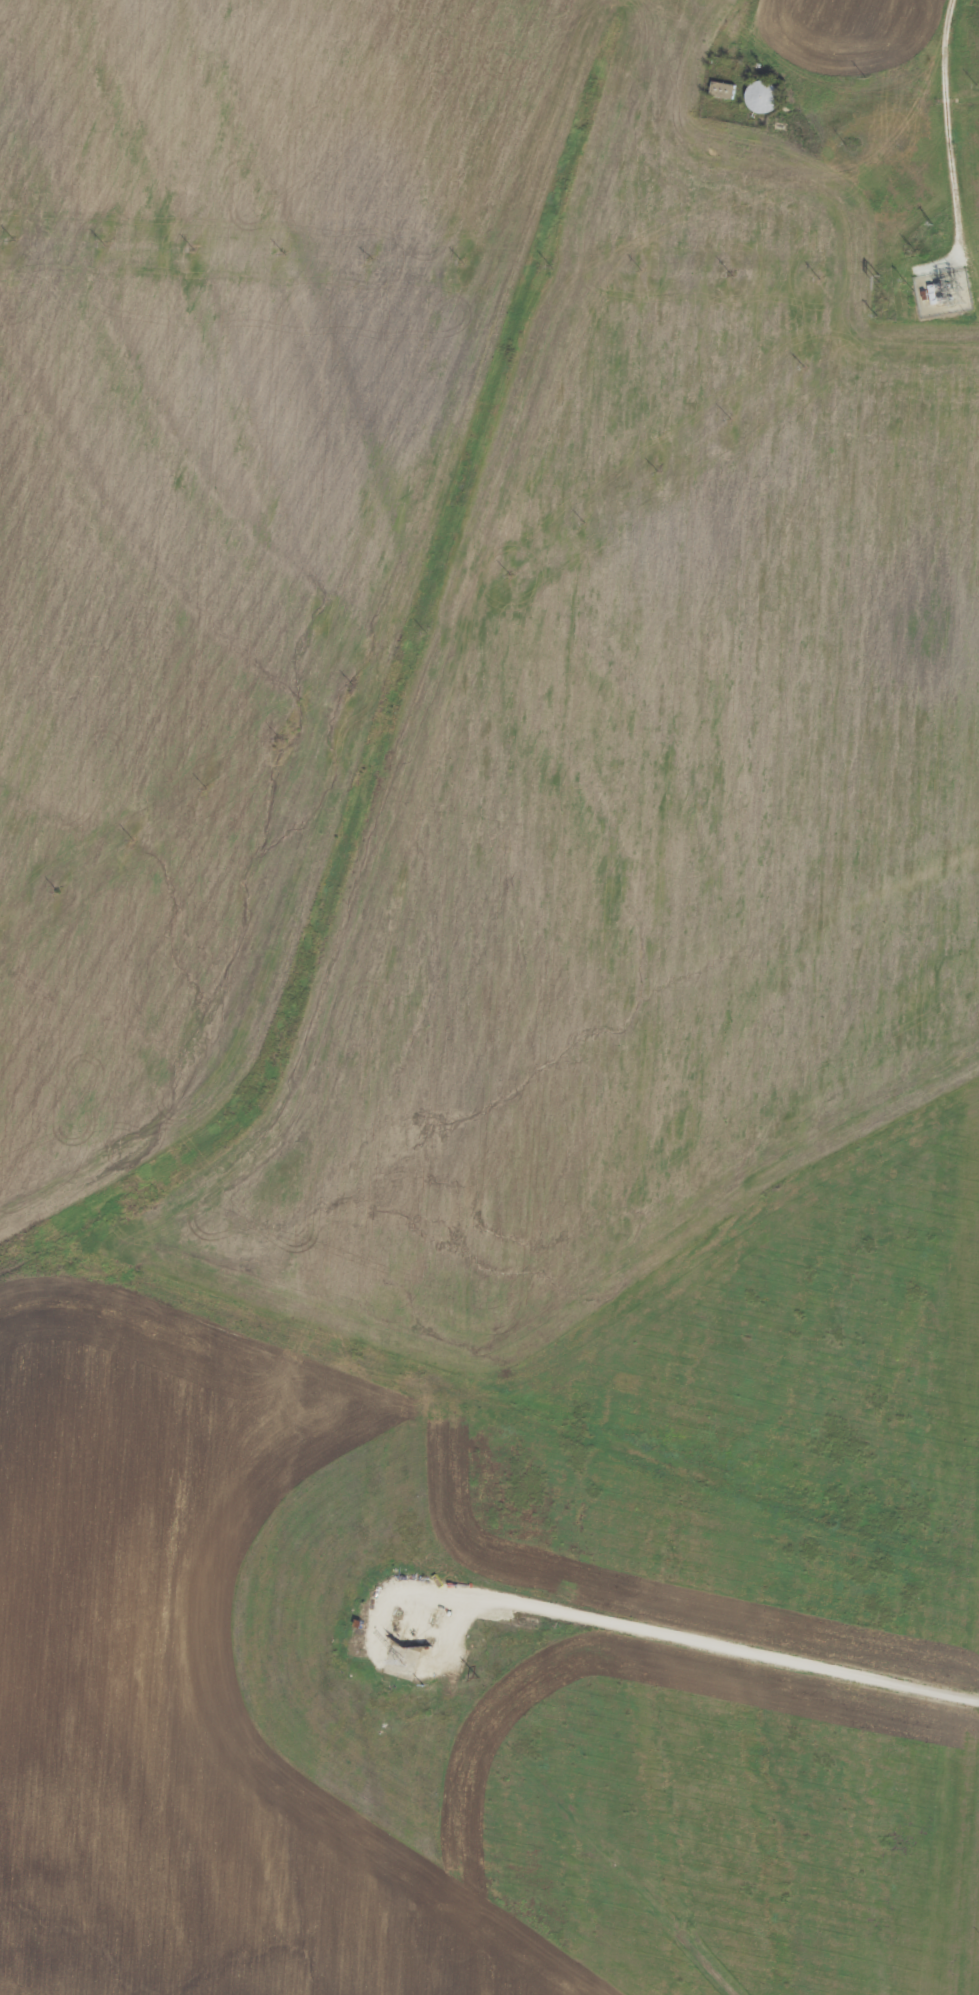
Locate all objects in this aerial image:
road: (745, 25)
building: (723, 87)
building: (764, 94)
storage tank: (764, 94)
road: (953, 156)
power substation: (941, 290)
railway: (492, 1050)
road: (687, 1647)

